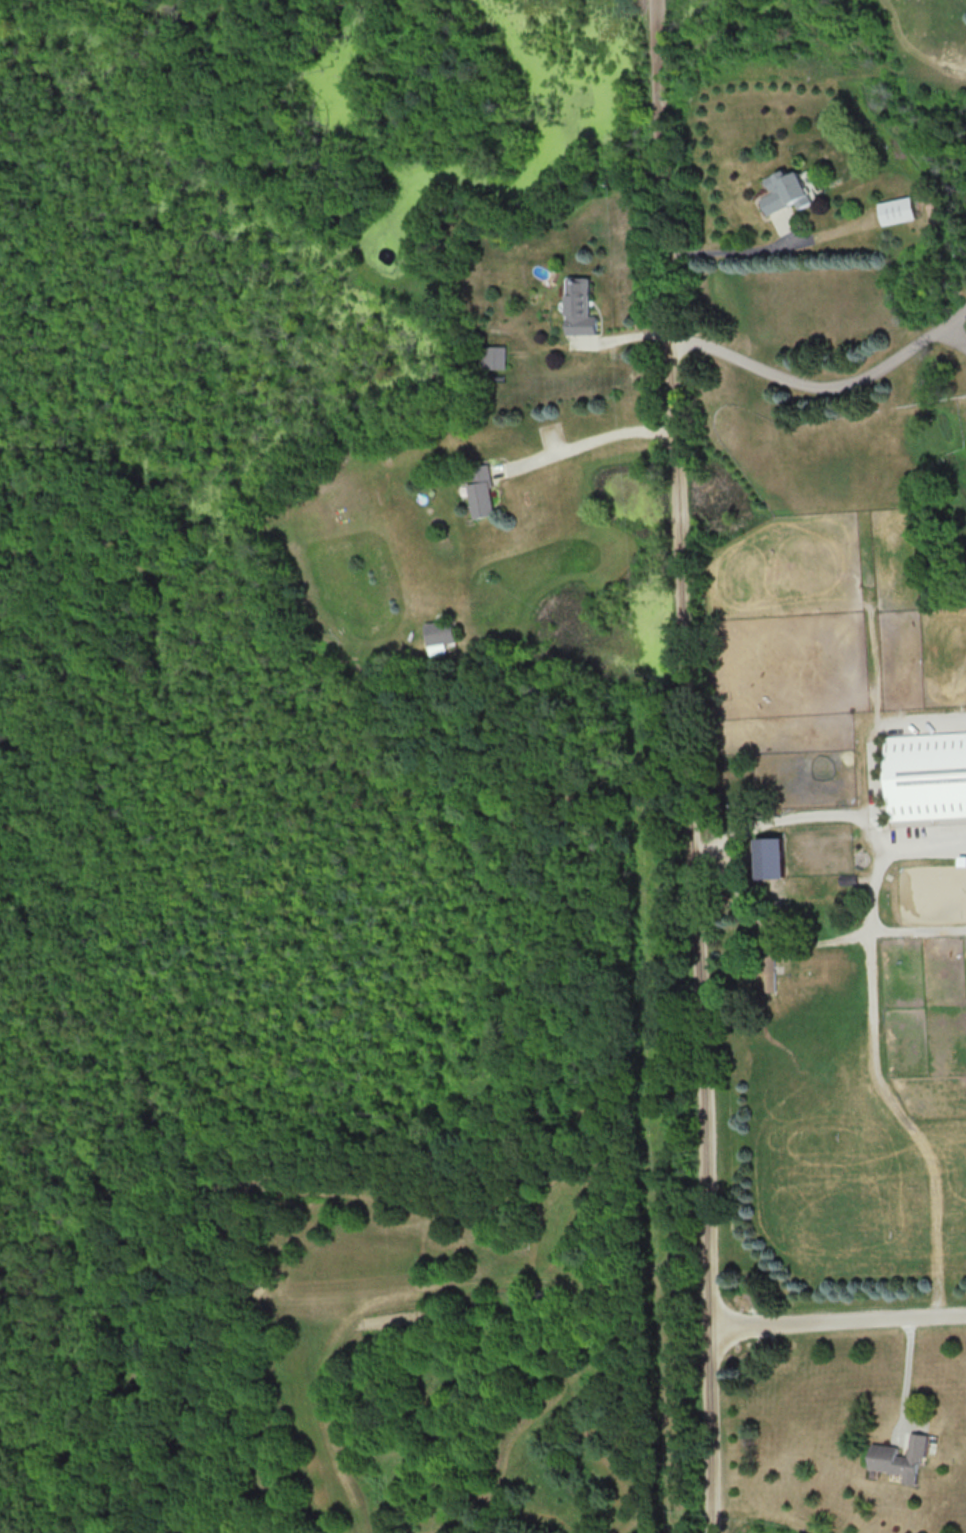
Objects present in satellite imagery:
building: (785, 191)
building: (895, 210)
road: (677, 249)
road: (743, 252)
building: (579, 307)
building: (491, 357)
road: (823, 388)
road: (591, 440)
building: (480, 491)
building: (439, 635)
road: (687, 766)
building: (925, 775)
road: (828, 817)
building: (770, 857)
building: (768, 970)
road: (885, 1090)
road: (838, 1323)
road: (909, 1374)
building: (900, 1457)

